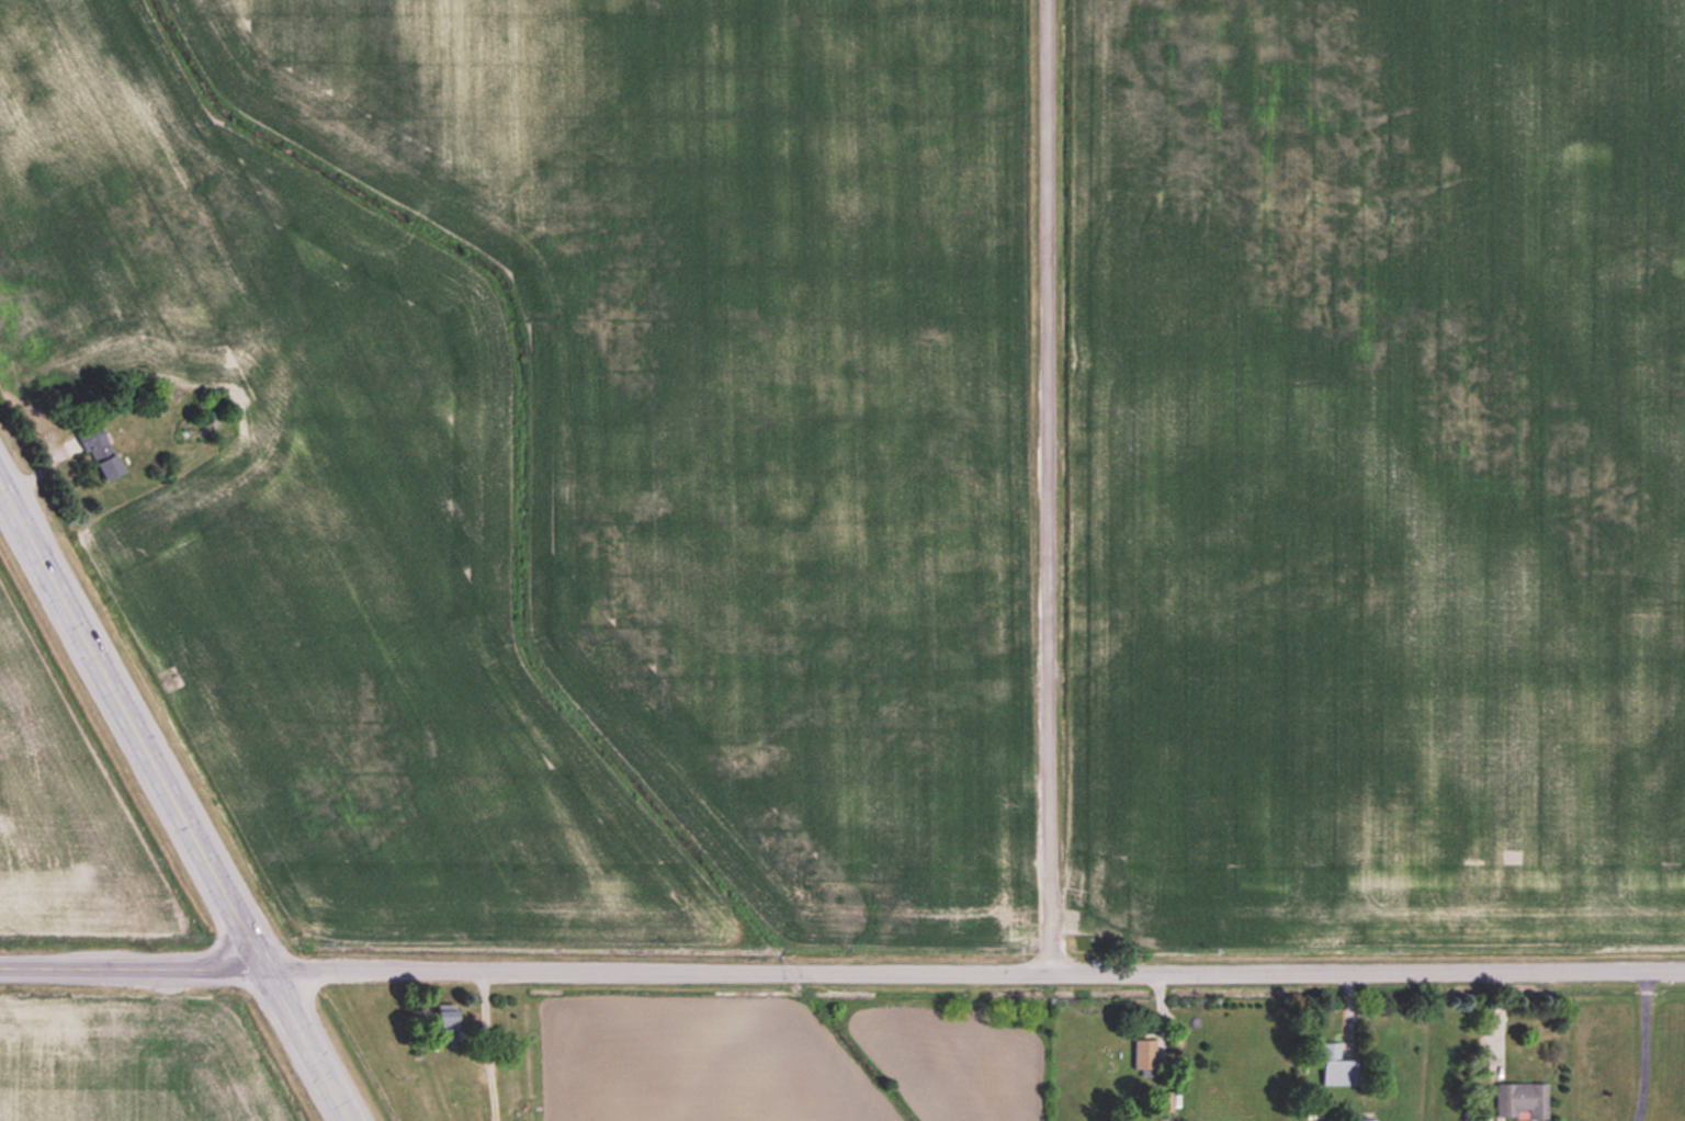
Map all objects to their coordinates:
crop: (567, 444)
building: (97, 448)
crop: (1377, 473)
road: (1049, 488)
road: (173, 804)
crop: (66, 812)
road: (132, 969)
road: (974, 975)
building: (445, 1024)
road: (1646, 1046)
building: (1145, 1058)
building: (1337, 1067)
building: (1520, 1102)

